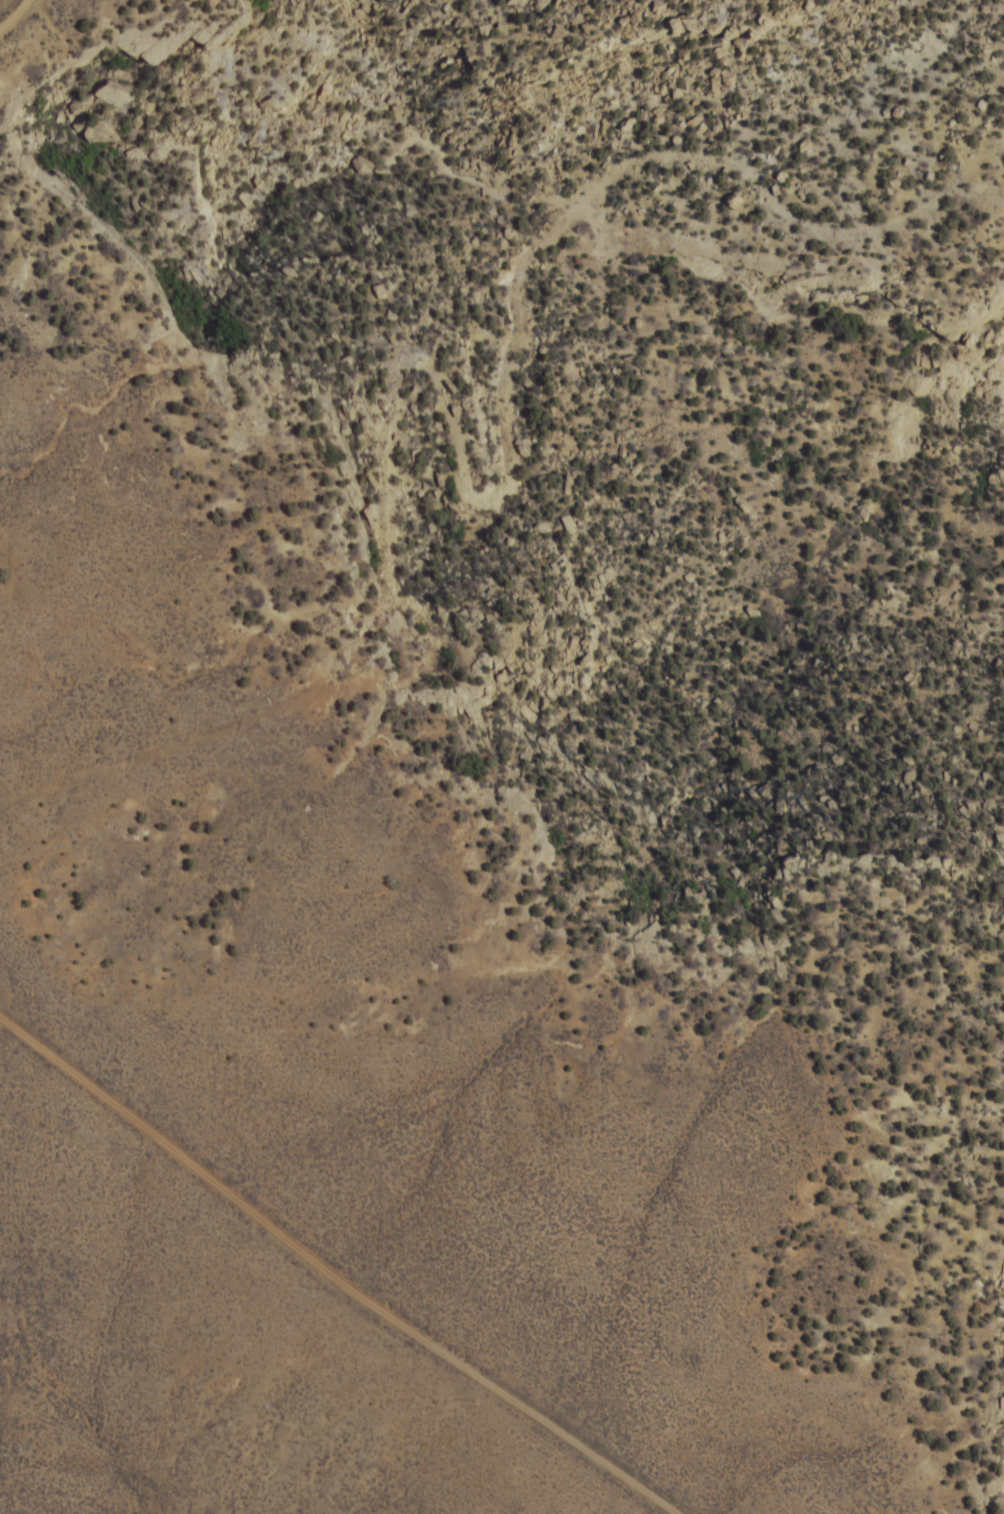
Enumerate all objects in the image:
road: (7, 5)
road: (355, 1243)

